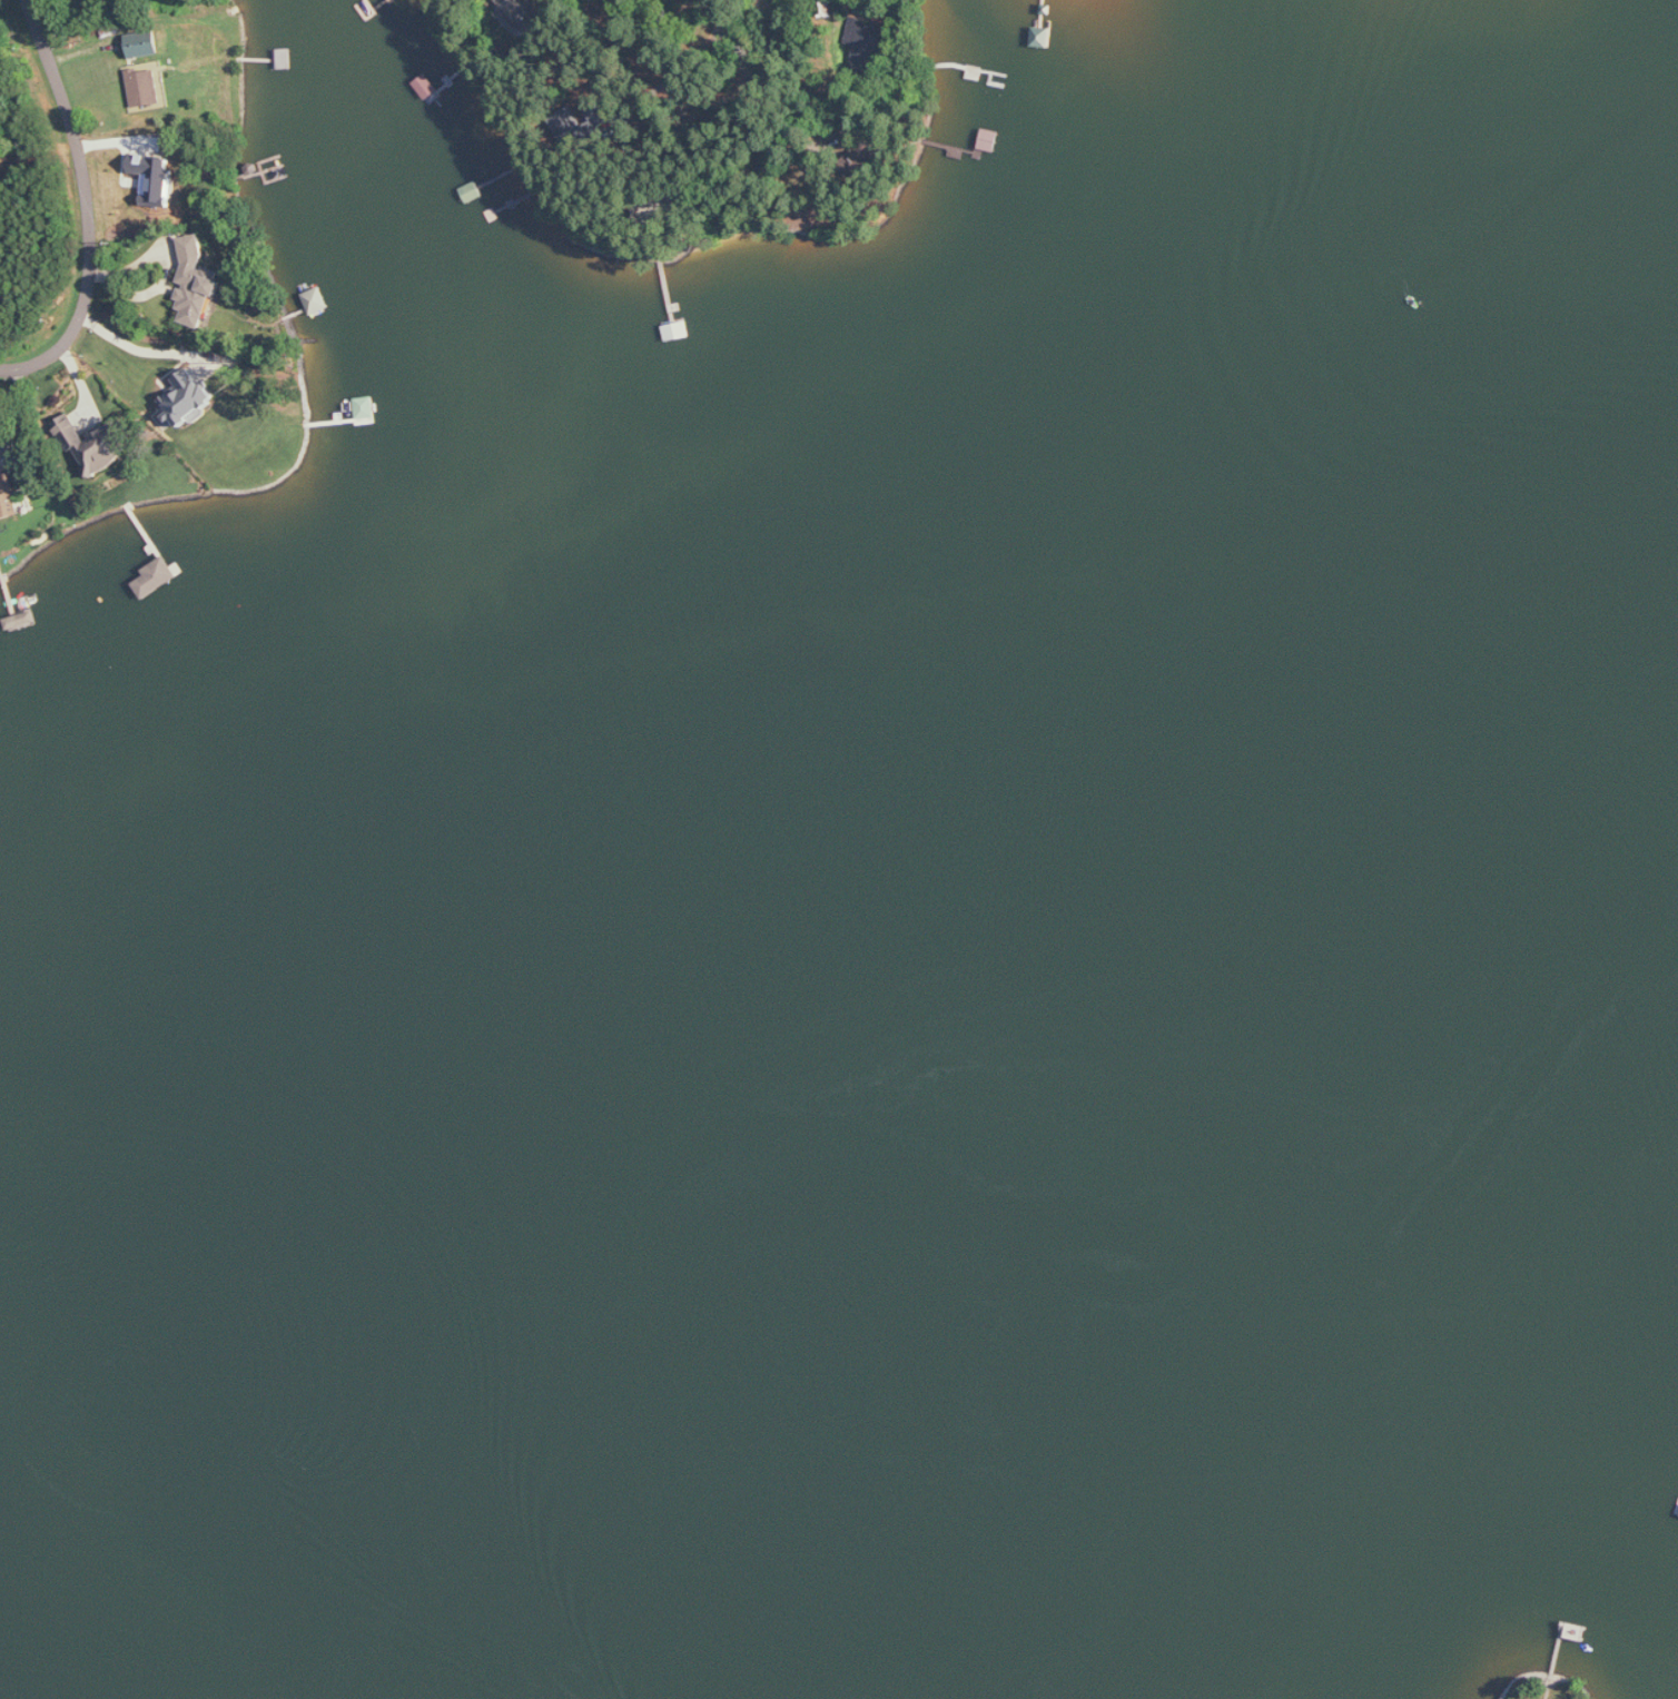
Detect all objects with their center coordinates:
road: (722, 22)
building: (866, 40)
building: (144, 45)
building: (145, 88)
building: (588, 125)
building: (155, 180)
road: (89, 209)
building: (196, 283)
building: (316, 302)
road: (144, 352)
building: (187, 397)
building: (96, 446)
building: (8, 497)
building: (26, 501)
building: (157, 577)

